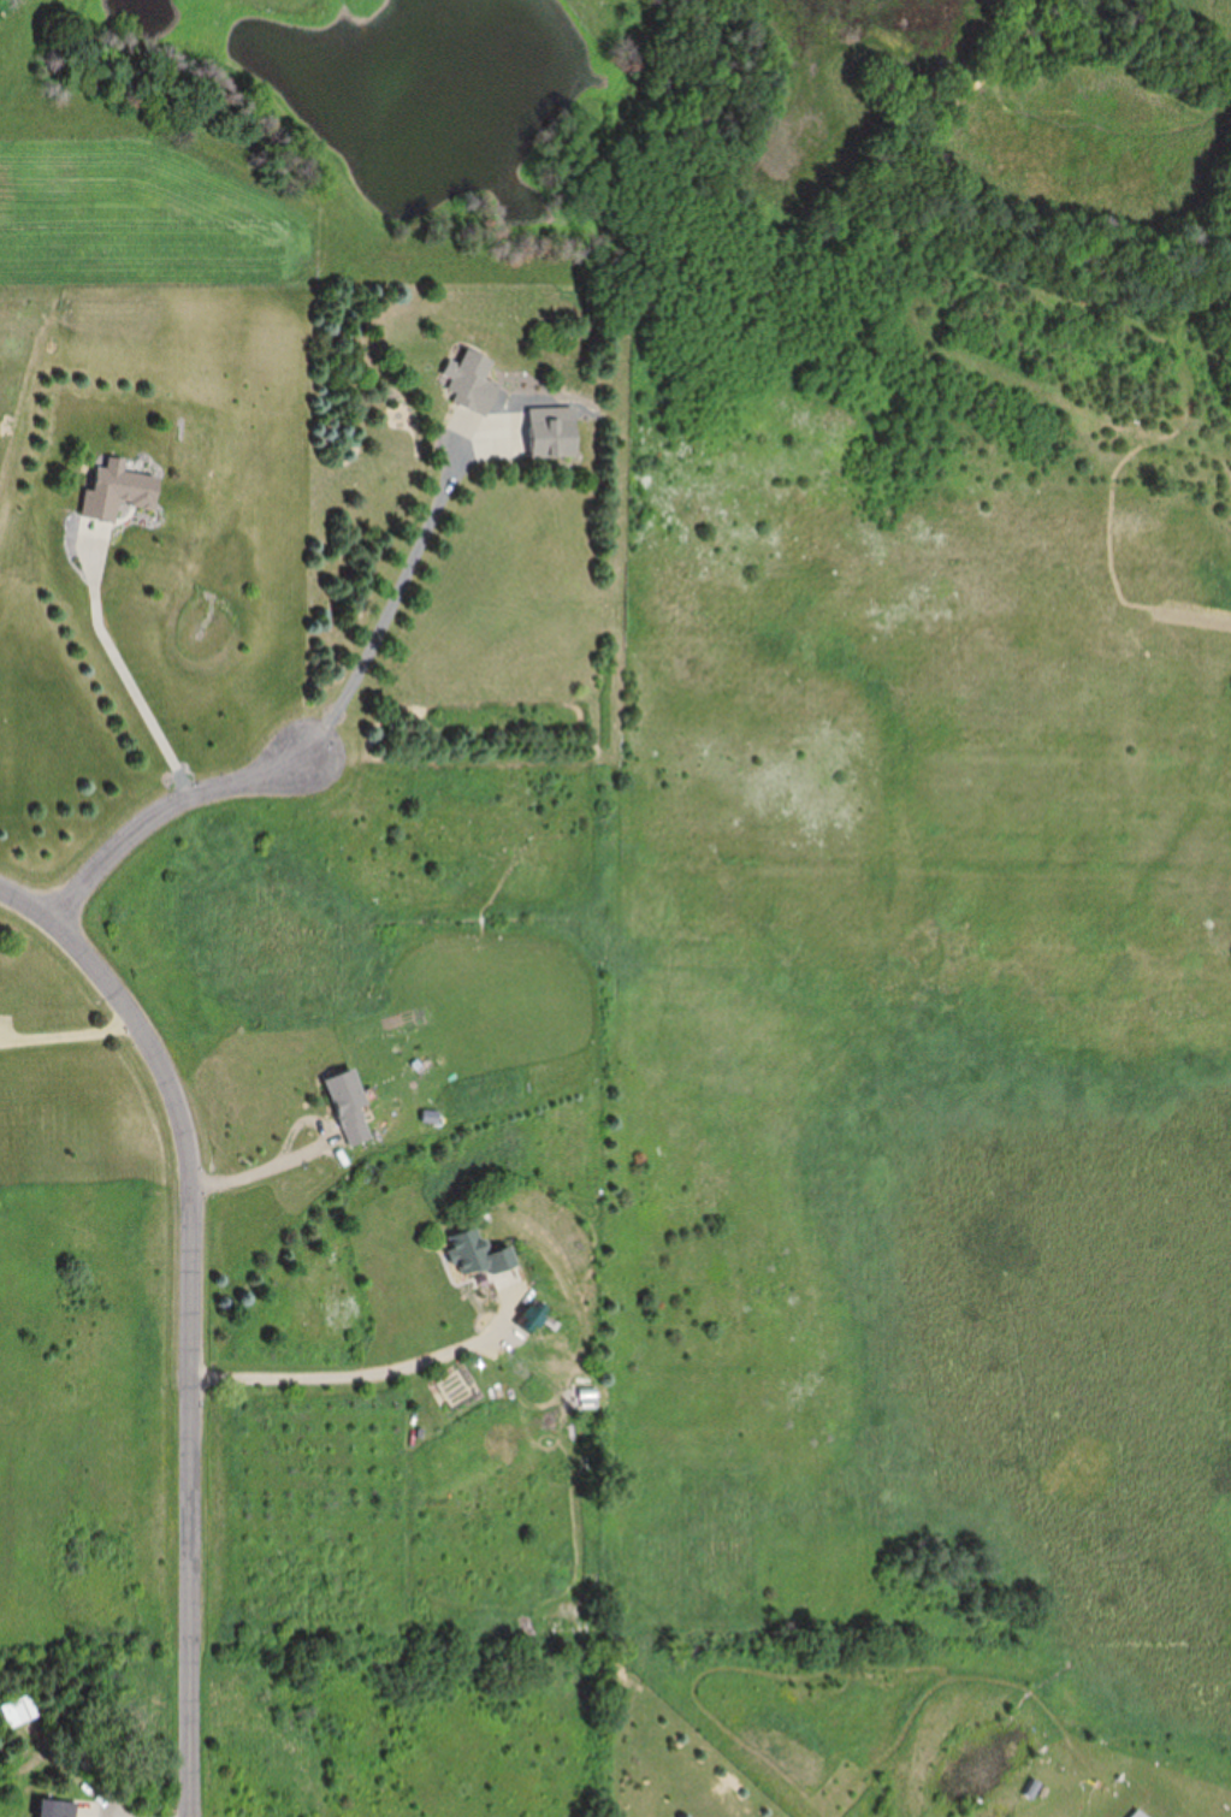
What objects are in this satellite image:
building: (469, 380)
building: (554, 431)
building: (117, 490)
road: (122, 676)
road: (306, 753)
road: (67, 1032)
road: (262, 1162)
building: (478, 1254)
building: (534, 1316)
road: (189, 1344)
road: (343, 1379)
building: (19, 1710)
building: (57, 1807)

